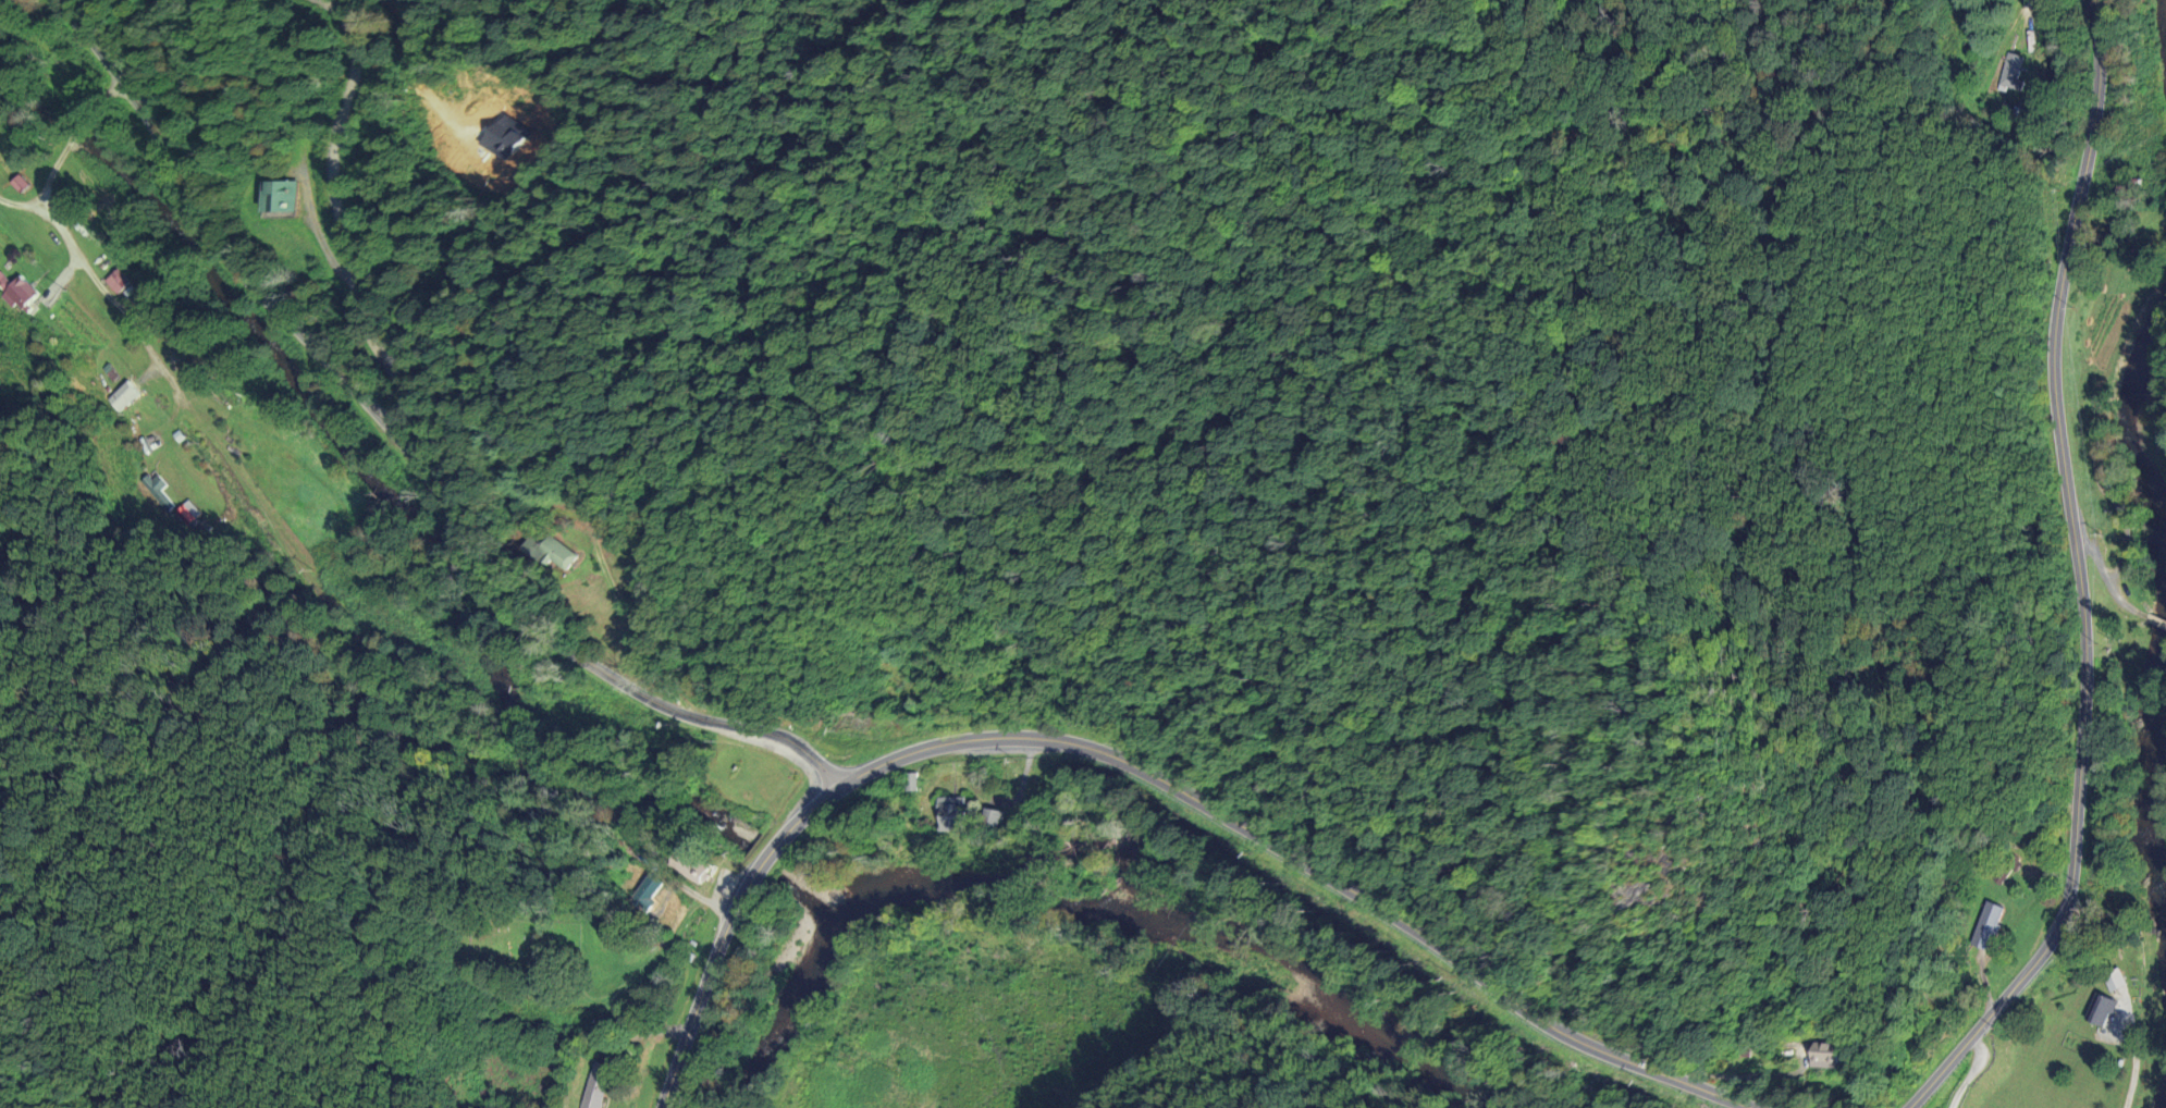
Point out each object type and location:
road: (49, 160)
building: (16, 187)
building: (2125, 193)
building: (274, 200)
building: (114, 285)
building: (15, 297)
building: (118, 401)
river: (2152, 440)
road: (404, 447)
building: (553, 557)
road: (2077, 578)
road: (2102, 586)
road: (2155, 625)
river: (2154, 758)
road: (1139, 773)
building: (948, 816)
building: (989, 821)
building: (686, 870)
building: (643, 897)
building: (1983, 931)
river: (1186, 969)
building: (2112, 984)
river: (795, 998)
building: (2101, 1015)
building: (1820, 1060)
road: (1970, 1073)
road: (1742, 1078)
building: (592, 1087)

